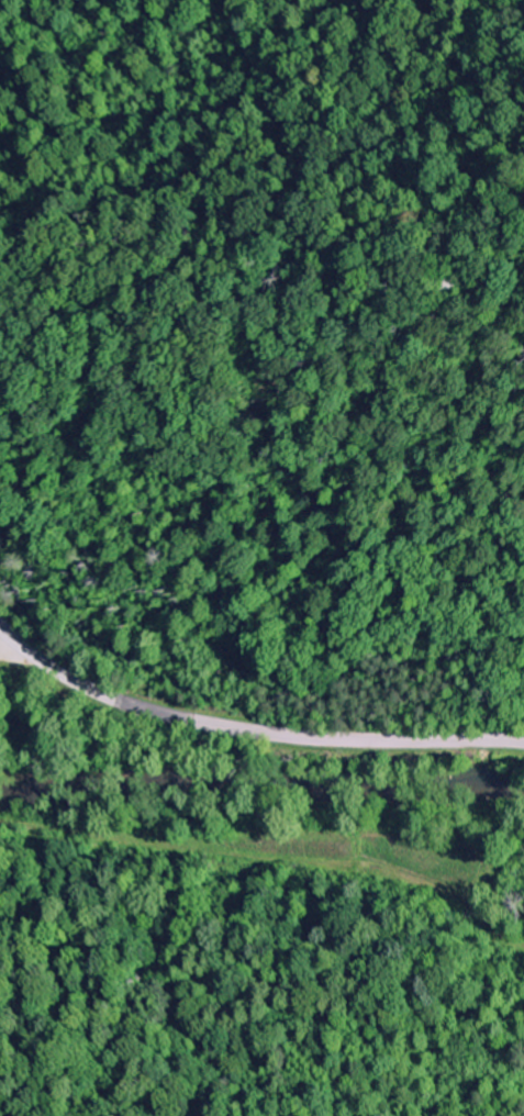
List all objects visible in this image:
road: (248, 732)

